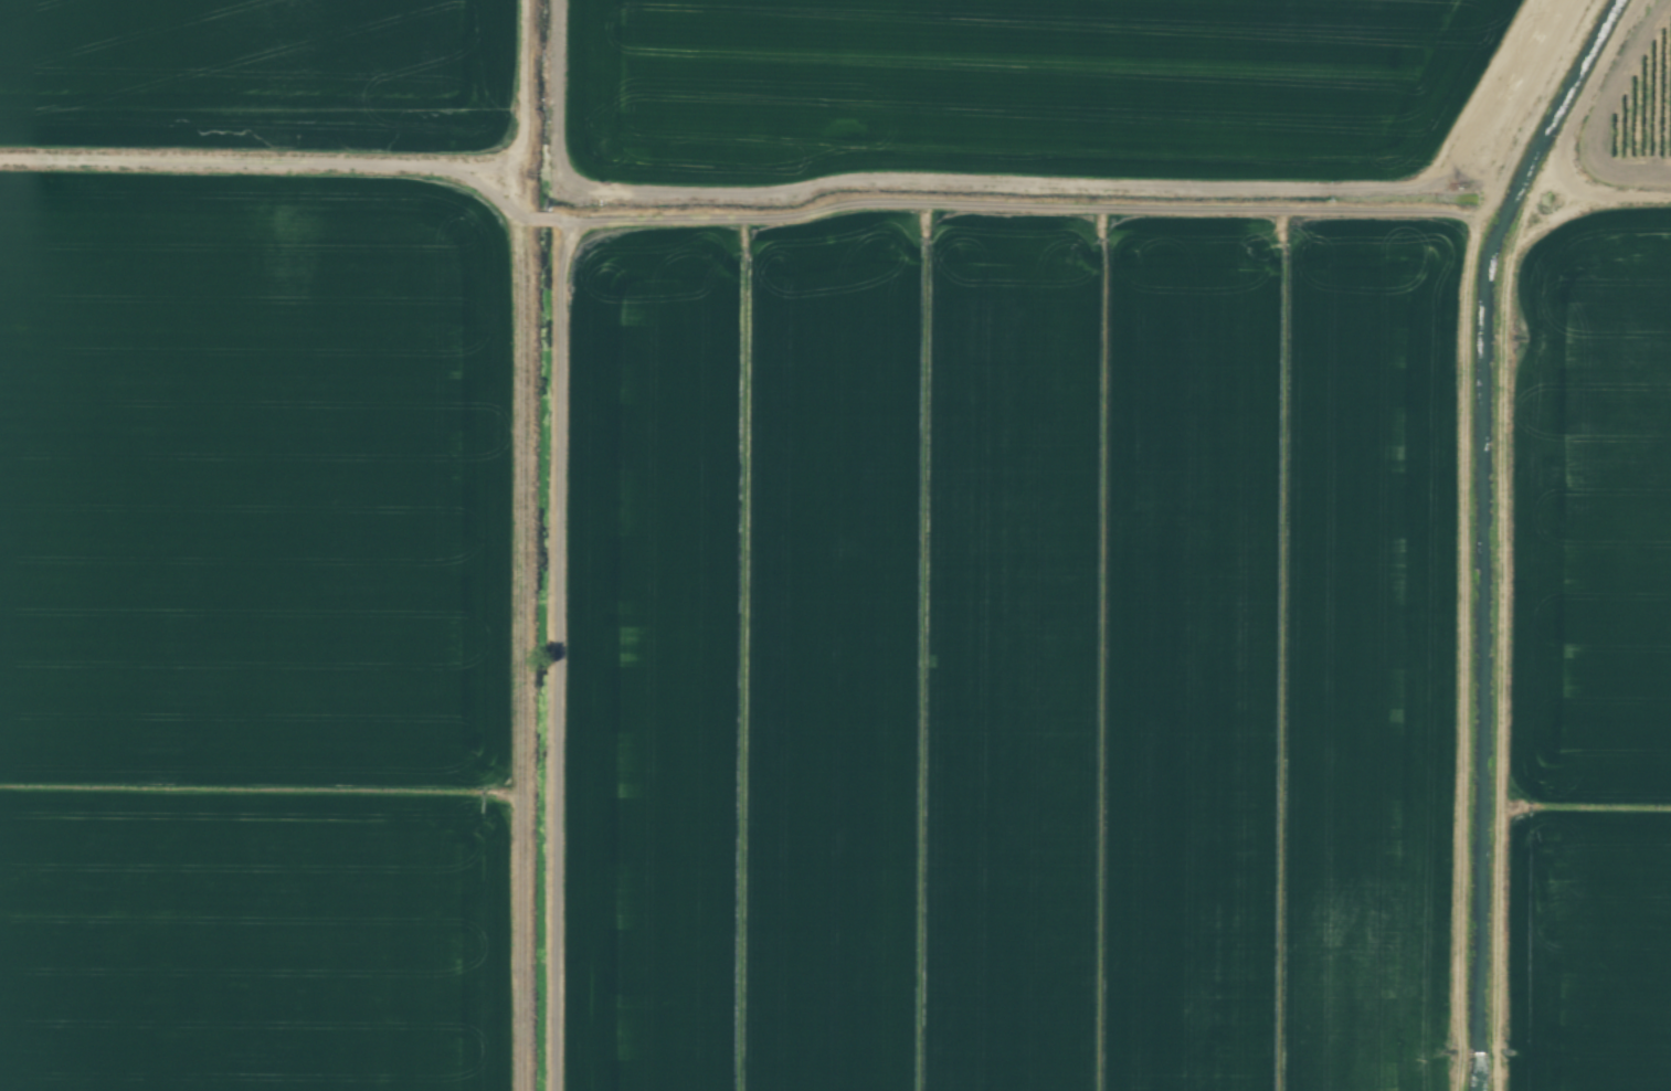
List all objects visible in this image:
road: (522, 118)
road: (293, 161)

